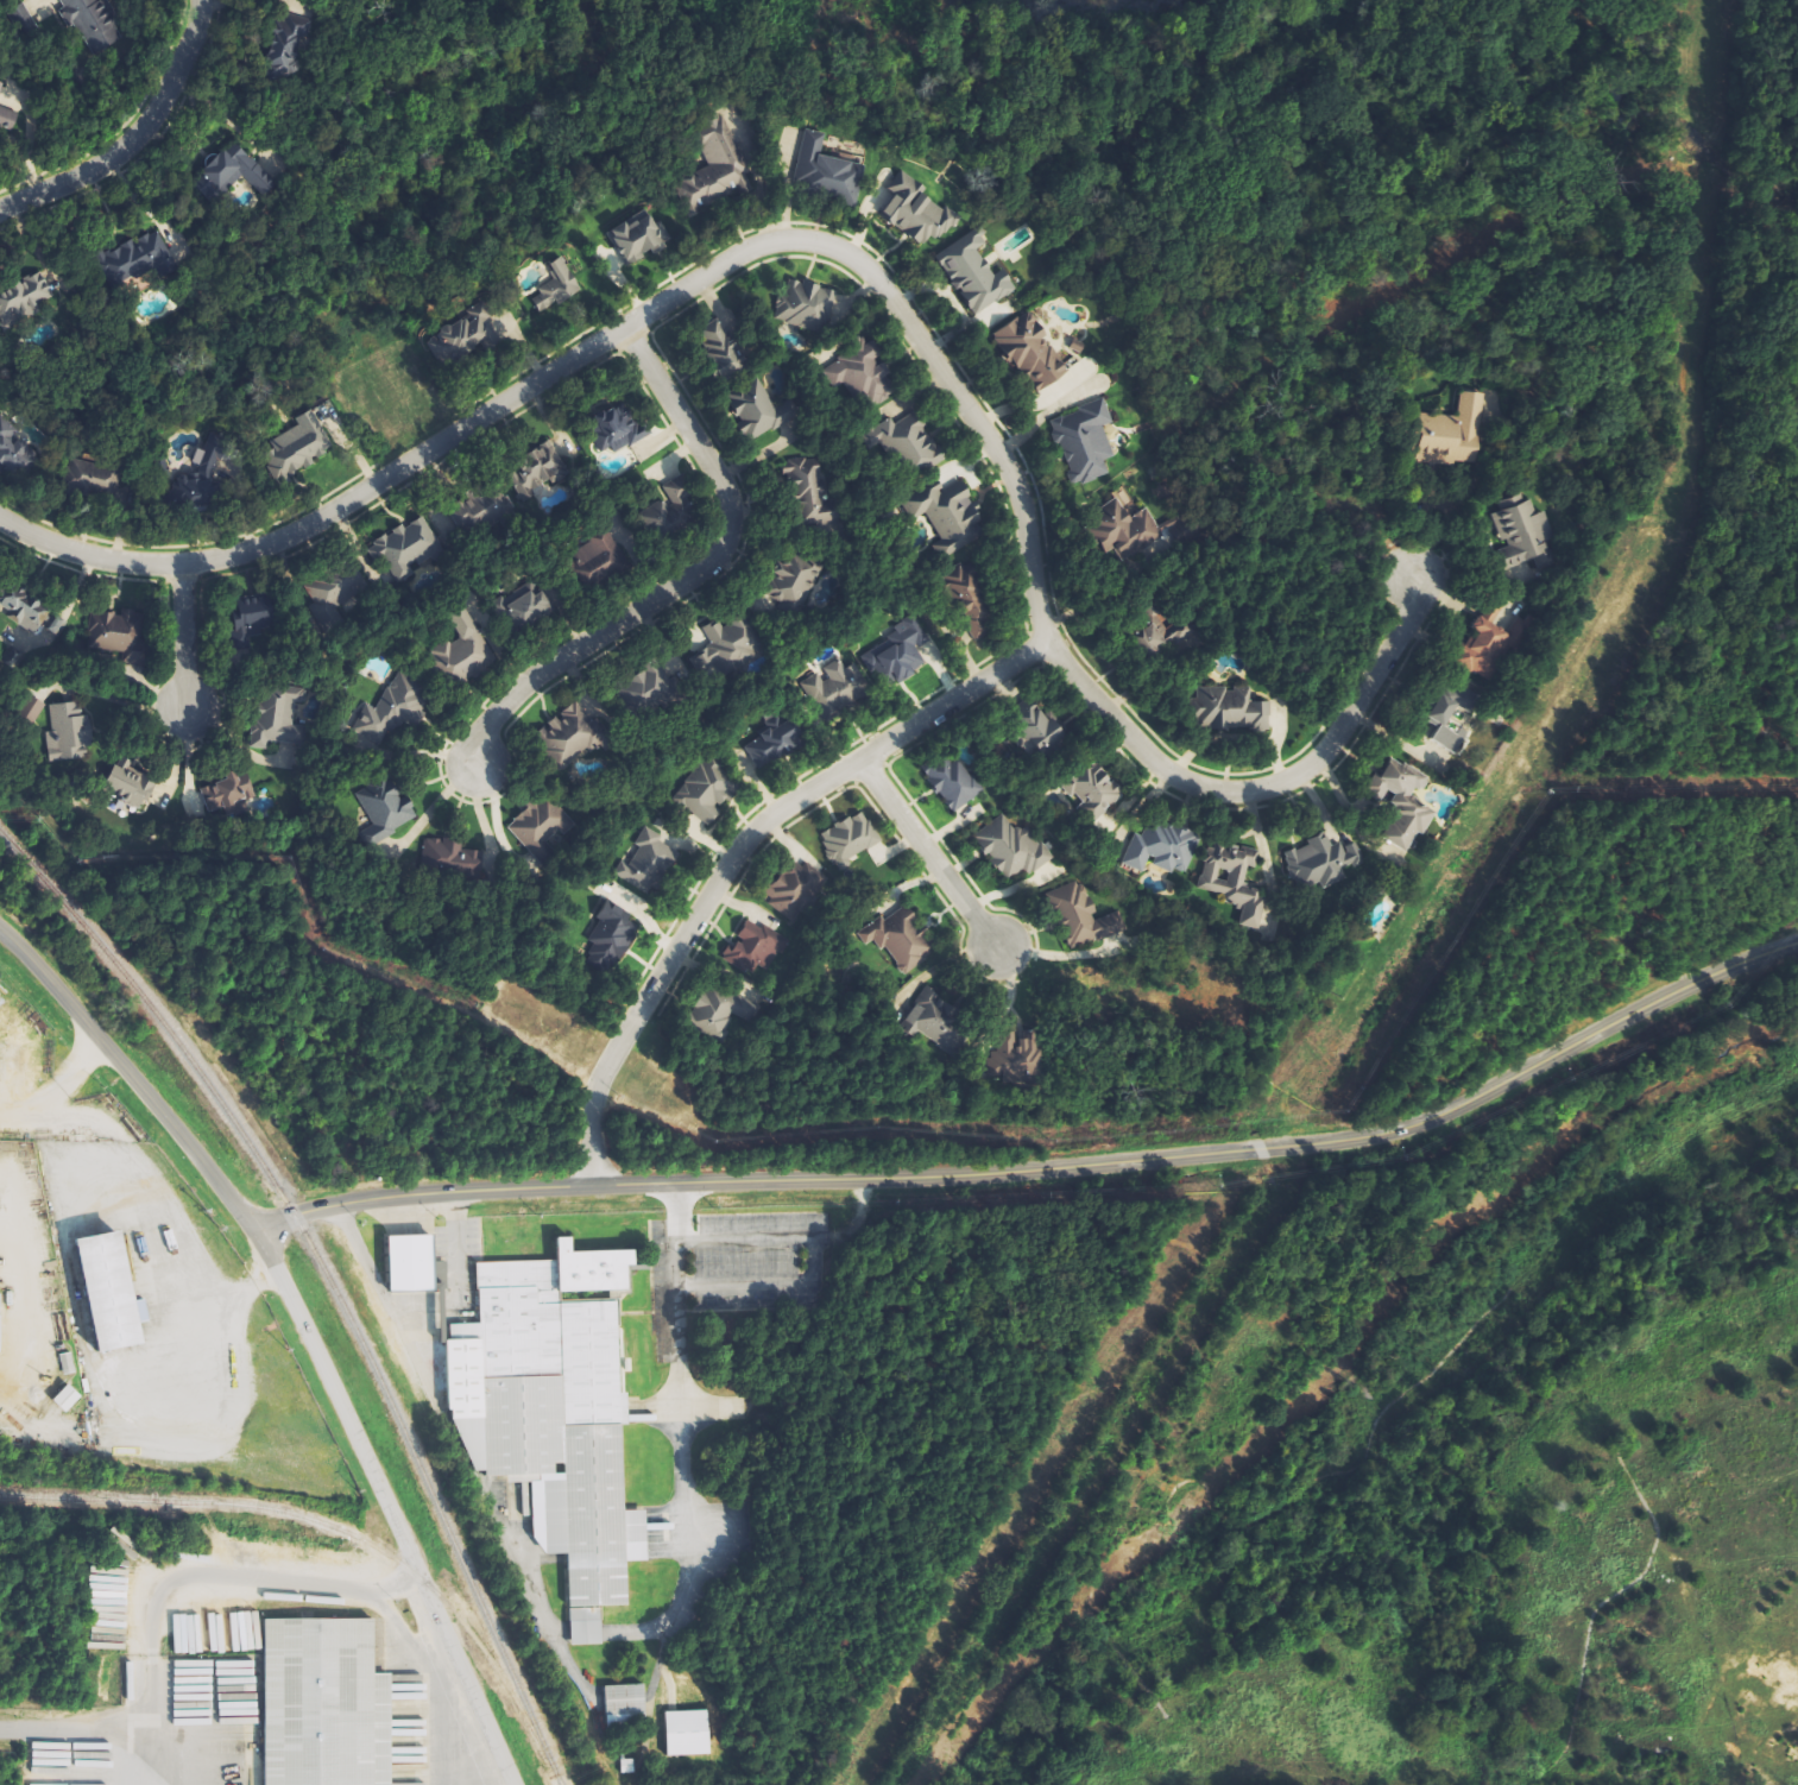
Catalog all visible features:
building: (93, 24)
building: (288, 45)
building: (1, 86)
building: (7, 118)
road: (138, 140)
building: (714, 165)
building: (826, 168)
building: (232, 174)
building: (917, 212)
building: (638, 238)
building: (137, 258)
building: (974, 275)
building: (556, 288)
building: (25, 297)
building: (807, 308)
road: (622, 328)
building: (461, 334)
building: (720, 352)
building: (1030, 352)
building: (863, 373)
building: (759, 411)
building: (617, 430)
building: (1451, 434)
building: (904, 441)
building: (1085, 442)
building: (298, 448)
building: (14, 452)
building: (203, 479)
building: (806, 485)
building: (525, 487)
building: (664, 510)
building: (948, 516)
building: (1125, 528)
building: (1521, 534)
building: (405, 549)
building: (600, 550)
building: (796, 578)
road: (683, 584)
building: (528, 607)
building: (23, 612)
building: (253, 619)
building: (119, 635)
building: (1162, 636)
building: (732, 641)
road: (181, 643)
building: (1482, 650)
building: (463, 651)
building: (895, 655)
building: (701, 664)
building: (833, 688)
building: (652, 689)
building: (30, 708)
building: (1228, 708)
building: (390, 713)
building: (276, 721)
building: (1446, 725)
building: (1042, 732)
building: (67, 733)
building: (569, 736)
building: (772, 740)
building: (954, 784)
building: (139, 787)
road: (1260, 789)
building: (705, 791)
building: (1092, 791)
building: (1402, 803)
building: (542, 831)
building: (848, 840)
building: (1012, 849)
building: (1160, 849)
road: (734, 850)
road: (926, 854)
building: (646, 862)
building: (1319, 862)
building: (1232, 882)
building: (795, 894)
building: (1083, 915)
building: (611, 938)
building: (901, 940)
building: (757, 950)
building: (724, 1011)
building: (934, 1020)
building: (1015, 1061)
road: (127, 1078)
road: (1043, 1169)
road: (815, 1259)
building: (411, 1262)
railway: (326, 1281)
building: (88, 1289)
building: (0, 1300)
building: (0, 1335)
building: (68, 1363)
building: (67, 1398)
building: (554, 1414)
road: (681, 1434)
railway: (105, 1497)
building: (526, 1499)
road: (384, 1507)
railway: (328, 1527)
building: (625, 1703)
building: (324, 1704)
building: (688, 1733)

